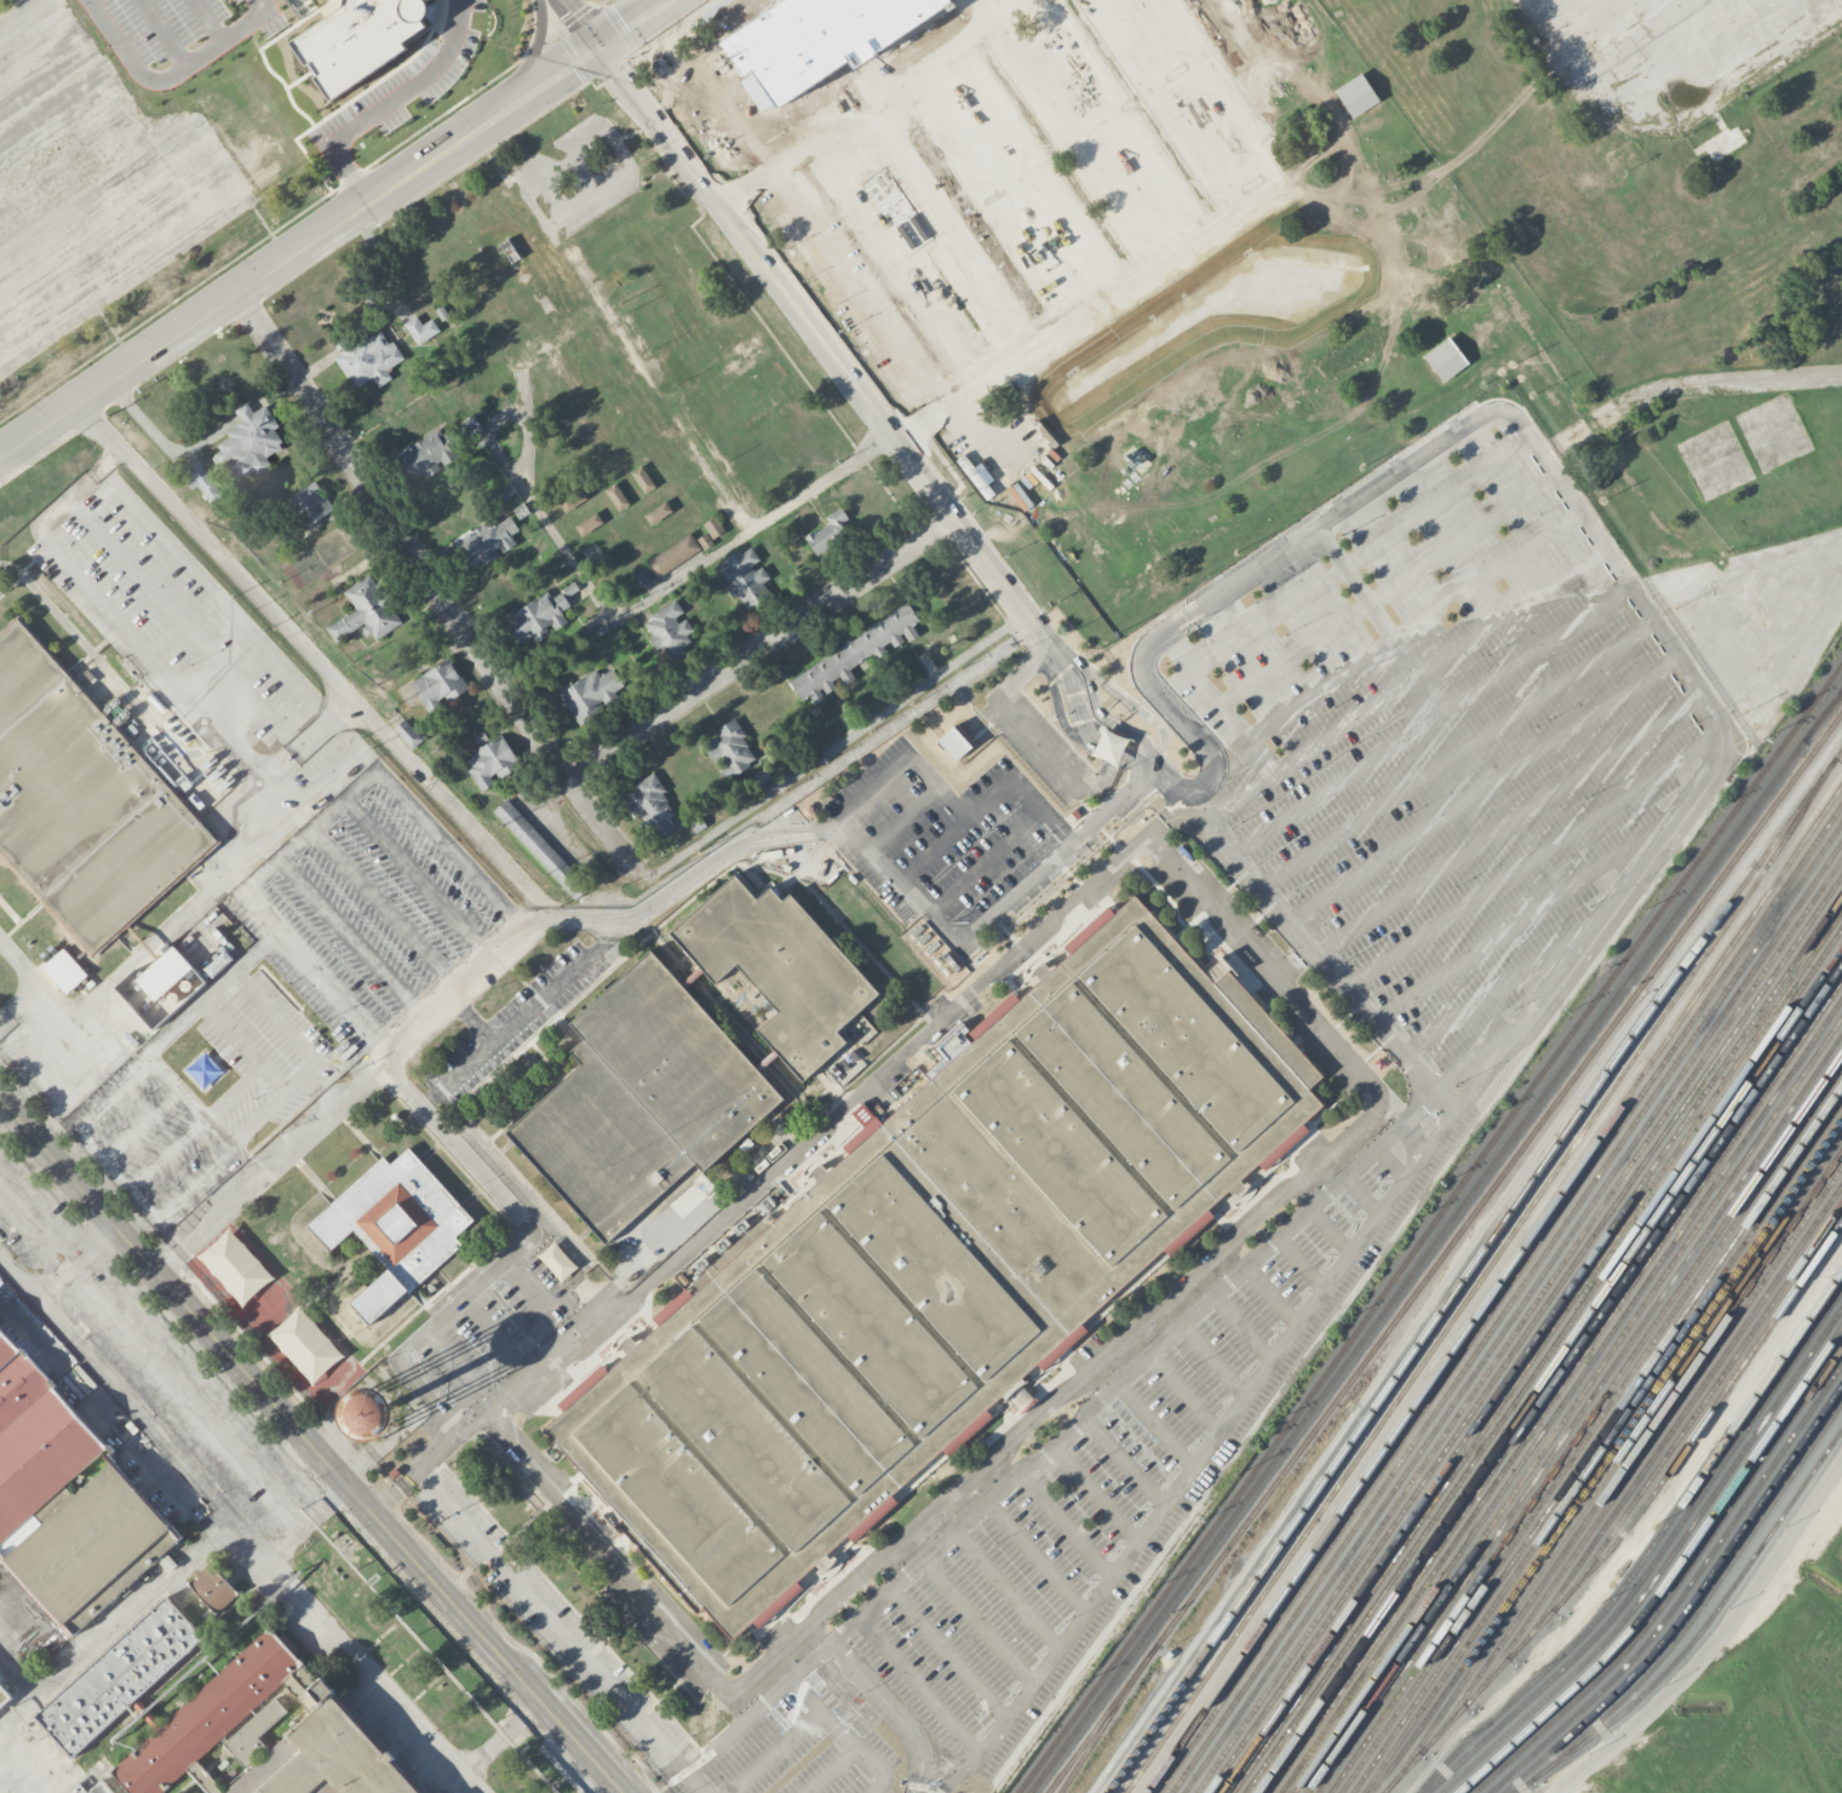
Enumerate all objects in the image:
building: (1832, 0)
road: (991, 6)
road: (581, 21)
road: (630, 21)
building: (817, 36)
building: (360, 38)
traffic signals: (598, 42)
road: (171, 76)
building: (1155, 77)
road: (1210, 92)
building: (1356, 94)
road: (395, 100)
road: (866, 100)
road: (1170, 104)
road: (1672, 115)
road: (1120, 117)
road: (1079, 137)
building: (1723, 142)
road: (1028, 169)
building: (1235, 172)
road: (991, 196)
road: (941, 228)
road: (299, 251)
road: (900, 255)
building: (1292, 263)
road: (853, 287)
park: (1450, 310)
road: (1084, 311)
building: (421, 329)
building: (368, 357)
building: (1445, 358)
road: (1683, 385)
road: (856, 387)
road: (274, 391)
building: (1182, 401)
road: (246, 412)
building: (248, 443)
road: (165, 444)
building: (1136, 459)
building: (642, 478)
building: (201, 479)
road: (524, 481)
road: (1568, 493)
building: (616, 496)
building: (572, 500)
road: (1440, 501)
building: (309, 504)
building: (658, 512)
building: (589, 523)
building: (713, 527)
road: (754, 528)
building: (828, 531)
road: (1464, 539)
building: (486, 542)
building: (673, 554)
road: (1488, 575)
building: (746, 576)
road: (434, 584)
road: (1511, 609)
building: (365, 611)
building: (540, 614)
road: (1381, 615)
road: (124, 621)
building: (668, 631)
road: (303, 643)
road: (761, 648)
road: (1295, 651)
road: (1212, 654)
building: (850, 655)
road: (1797, 669)
building: (440, 684)
road: (1322, 690)
building: (592, 694)
railway: (1823, 717)
road: (1428, 718)
road: (322, 723)
building: (408, 734)
building: (954, 742)
road: (1310, 748)
building: (730, 749)
road: (833, 751)
road: (1454, 754)
road: (1135, 760)
building: (490, 762)
road: (900, 763)
road: (1480, 788)
road: (983, 799)
building: (82, 800)
building: (650, 808)
road: (1507, 822)
building: (540, 849)
road: (452, 852)
road: (1530, 860)
road: (420, 881)
road: (259, 906)
road: (386, 912)
road: (184, 913)
road: (584, 916)
road: (1521, 919)
road: (986, 920)
road: (604, 933)
road: (354, 942)
road: (1319, 959)
building: (779, 969)
building: (65, 970)
road: (1272, 970)
road: (34, 981)
building: (171, 981)
road: (1502, 990)
road: (518, 1017)
road: (276, 1018)
road: (474, 1021)
road: (166, 1036)
road: (245, 1047)
road: (303, 1077)
road: (114, 1097)
road: (429, 1099)
building: (641, 1099)
road: (260, 1119)
road: (1413, 1139)
road: (780, 1162)
road: (1390, 1163)
road: (269, 1168)
road: (1365, 1193)
road: (151, 1213)
building: (395, 1226)
railway: (1427, 1228)
road: (1331, 1229)
railway: (1436, 1240)
road: (511, 1251)
railway: (1445, 1252)
road: (73, 1259)
road: (1303, 1260)
building: (937, 1262)
building: (235, 1265)
railway: (1469, 1266)
railway: (1473, 1287)
railway: (1493, 1288)
road: (1274, 1293)
railway: (1502, 1298)
railway: (1508, 1305)
railway: (1511, 1316)
railway: (1519, 1324)
road: (1243, 1328)
railway: (1525, 1333)
railway: (1530, 1341)
building: (305, 1344)
railway: (1537, 1350)
road: (1146, 1355)
road: (1215, 1358)
railway: (1543, 1358)
railway: (1548, 1369)
railway: (1555, 1378)
railway: (1561, 1386)
road: (1186, 1390)
railway: (1566, 1395)
railway: (1692, 1397)
road: (1057, 1402)
railway: (1573, 1403)
railway: (1578, 1412)
road: (1157, 1421)
railway: (1584, 1421)
railway: (1660, 1427)
railway: (1682, 1429)
railway: (1590, 1430)
road: (1220, 1431)
railway: (1596, 1436)
railway: (1639, 1441)
road: (310, 1444)
railway: (1602, 1447)
railway: (1606, 1454)
railway: (1616, 1456)
road: (1126, 1458)
road: (1098, 1492)
road: (1067, 1522)
railway: (1630, 1522)
road: (233, 1523)
road: (310, 1525)
building: (88, 1546)
railway: (1649, 1547)
road: (604, 1556)
road: (1037, 1556)
railway: (1655, 1559)
railway: (1662, 1568)
railway: (1668, 1576)
railway: (1676, 1582)
building: (213, 1587)
road: (1009, 1587)
railway: (1683, 1594)
railway: (1705, 1597)
railway: (1689, 1601)
road: (977, 1621)
road: (114, 1625)
road: (34, 1628)
road: (848, 1628)
railway: (1700, 1631)
road: (1717, 1639)
road: (832, 1644)
road: (948, 1654)
building: (119, 1676)
road: (790, 1679)
road: (920, 1684)
building: (5, 1693)
road: (624, 1702)
road: (899, 1708)
road: (889, 1712)
railway: (1097, 1732)
building: (315, 1753)
road: (952, 1766)
road: (871, 1769)
road: (831, 1771)
road: (962, 1774)
building: (99, 1788)

